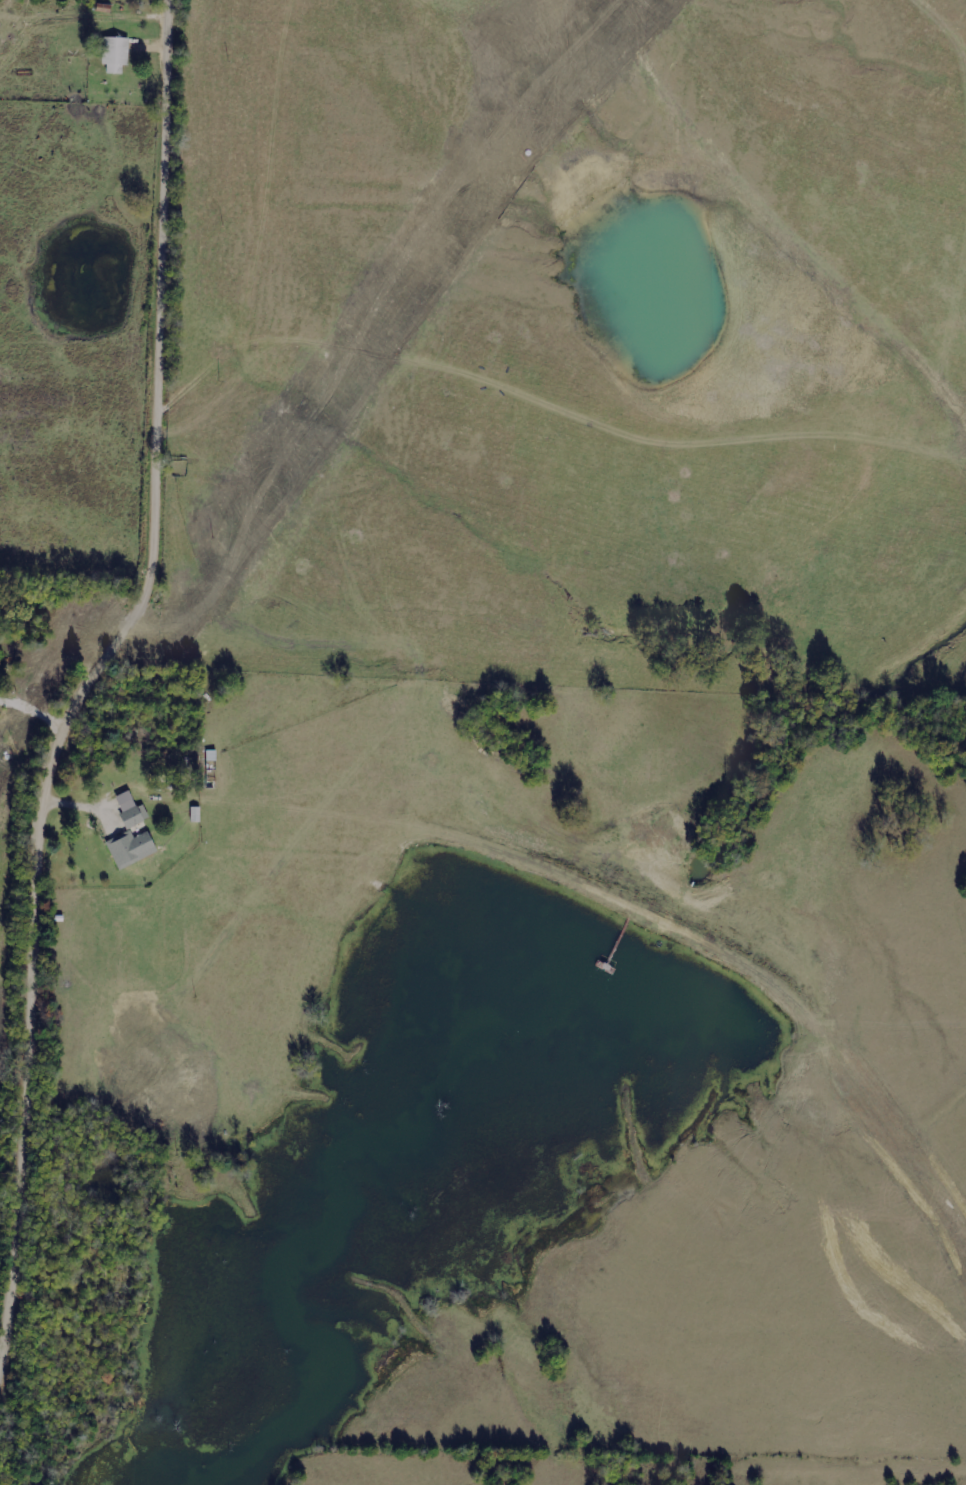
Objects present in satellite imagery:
building: (116, 54)
road: (121, 644)
building: (131, 810)
building: (132, 848)

